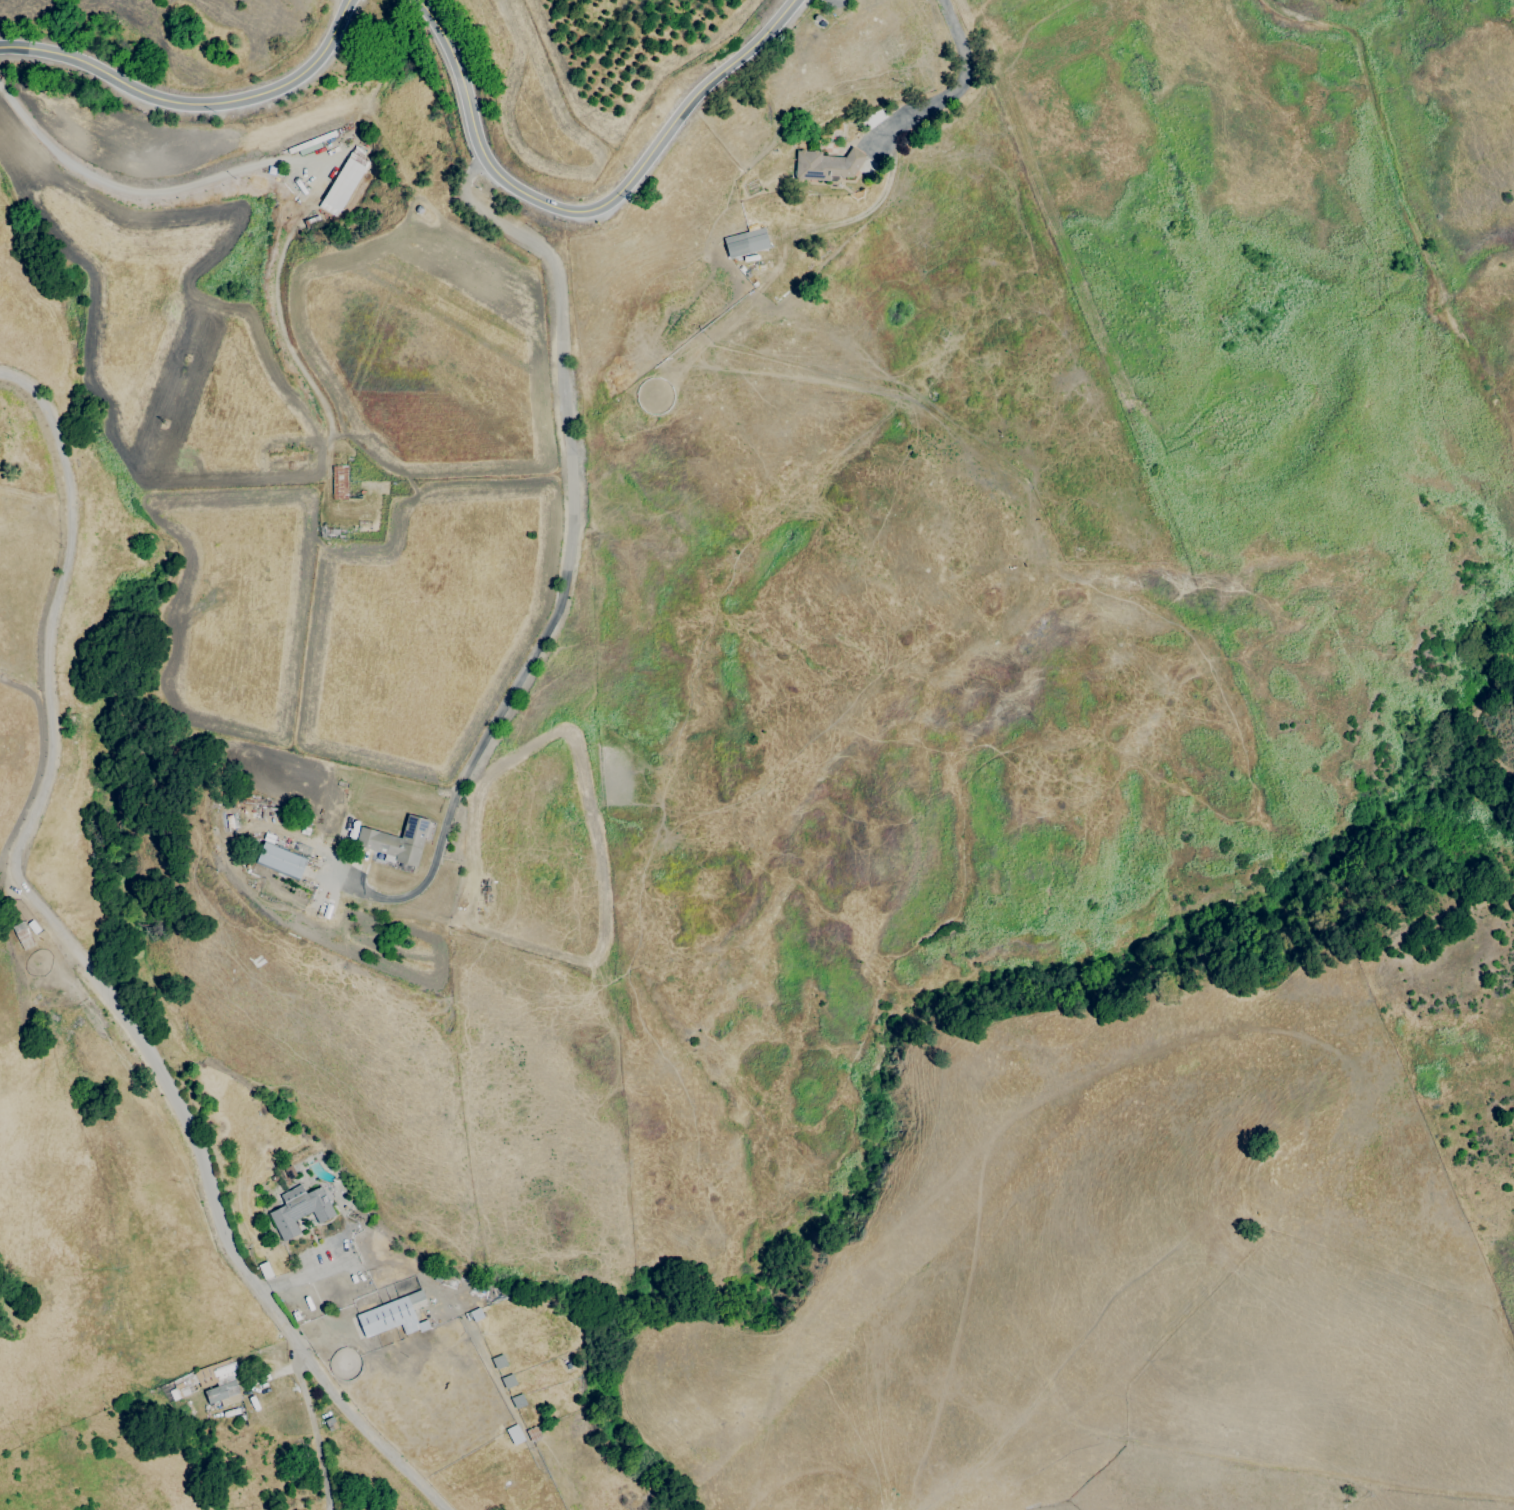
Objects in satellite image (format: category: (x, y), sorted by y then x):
road: (951, 91)
road: (193, 101)
building: (824, 166)
road: (279, 168)
building: (343, 182)
road: (591, 209)
building: (745, 243)
building: (338, 482)
road: (567, 555)
building: (394, 840)
building: (279, 860)
road: (90, 961)
building: (298, 1210)
building: (391, 1315)
building: (507, 1381)
building: (218, 1382)
building: (183, 1385)
road: (311, 1424)
building: (514, 1434)

